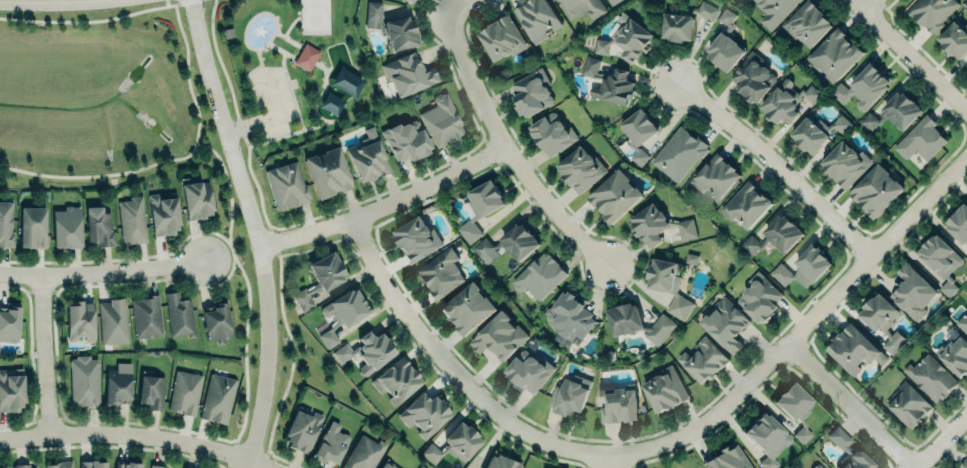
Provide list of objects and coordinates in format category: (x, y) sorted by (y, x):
building: (409, 1)
building: (613, 1)
road: (50, 2)
road: (171, 3)
road: (183, 3)
road: (887, 5)
road: (869, 6)
road: (460, 7)
building: (580, 8)
building: (773, 10)
building: (707, 11)
building: (932, 12)
road: (300, 15)
building: (726, 17)
building: (537, 18)
road: (86, 21)
building: (807, 23)
building: (391, 26)
building: (677, 27)
road: (272, 35)
building: (501, 37)
road: (288, 38)
building: (627, 38)
building: (954, 39)
road: (282, 49)
building: (724, 52)
road: (917, 52)
building: (835, 54)
road: (909, 55)
building: (306, 57)
road: (259, 64)
road: (322, 65)
park: (299, 70)
building: (408, 73)
building: (752, 78)
building: (346, 81)
building: (608, 82)
building: (863, 87)
road: (291, 89)
building: (530, 94)
parking lot: (272, 101)
building: (786, 101)
building: (331, 103)
building: (901, 110)
building: (441, 121)
road: (320, 123)
building: (638, 132)
building: (816, 132)
building: (551, 133)
building: (405, 140)
building: (920, 140)
road: (509, 152)
building: (679, 153)
building: (367, 157)
road: (169, 160)
building: (845, 163)
road: (778, 165)
building: (579, 169)
building: (328, 171)
building: (715, 177)
building: (287, 185)
building: (875, 190)
building: (614, 196)
building: (197, 199)
building: (745, 205)
road: (388, 206)
building: (480, 207)
building: (163, 214)
building: (132, 220)
building: (6, 224)
building: (649, 224)
building: (959, 224)
building: (99, 226)
building: (32, 227)
building: (66, 227)
building: (686, 229)
road: (258, 231)
building: (782, 232)
building: (416, 239)
building: (510, 243)
building: (750, 245)
building: (966, 256)
road: (221, 257)
building: (690, 259)
building: (940, 261)
building: (804, 267)
road: (104, 272)
building: (440, 273)
building: (539, 276)
building: (320, 278)
building: (668, 286)
road: (249, 288)
building: (912, 291)
building: (759, 298)
building: (966, 302)
building: (468, 308)
building: (342, 312)
building: (146, 316)
building: (179, 316)
building: (569, 318)
building: (80, 319)
building: (9, 321)
building: (112, 321)
building: (882, 321)
building: (216, 322)
building: (636, 322)
building: (962, 322)
building: (725, 324)
road: (803, 328)
building: (499, 336)
building: (854, 350)
building: (367, 351)
building: (954, 354)
road: (45, 358)
building: (702, 360)
road: (455, 372)
building: (528, 372)
building: (930, 377)
building: (84, 380)
building: (396, 380)
building: (117, 383)
building: (664, 390)
building: (11, 391)
building: (151, 391)
building: (185, 392)
building: (568, 396)
building: (217, 398)
building: (907, 404)
building: (619, 406)
building: (795, 407)
road: (849, 407)
building: (423, 415)
building: (302, 429)
road: (135, 436)
building: (767, 438)
road: (939, 439)
building: (455, 443)
building: (331, 444)
building: (848, 451)
building: (363, 453)
building: (499, 462)
road: (612, 462)
building: (93, 464)
building: (388, 464)
building: (964, 464)
building: (21, 465)
building: (59, 465)
building: (126, 465)
building: (155, 466)
building: (817, 466)
building: (3, 467)

